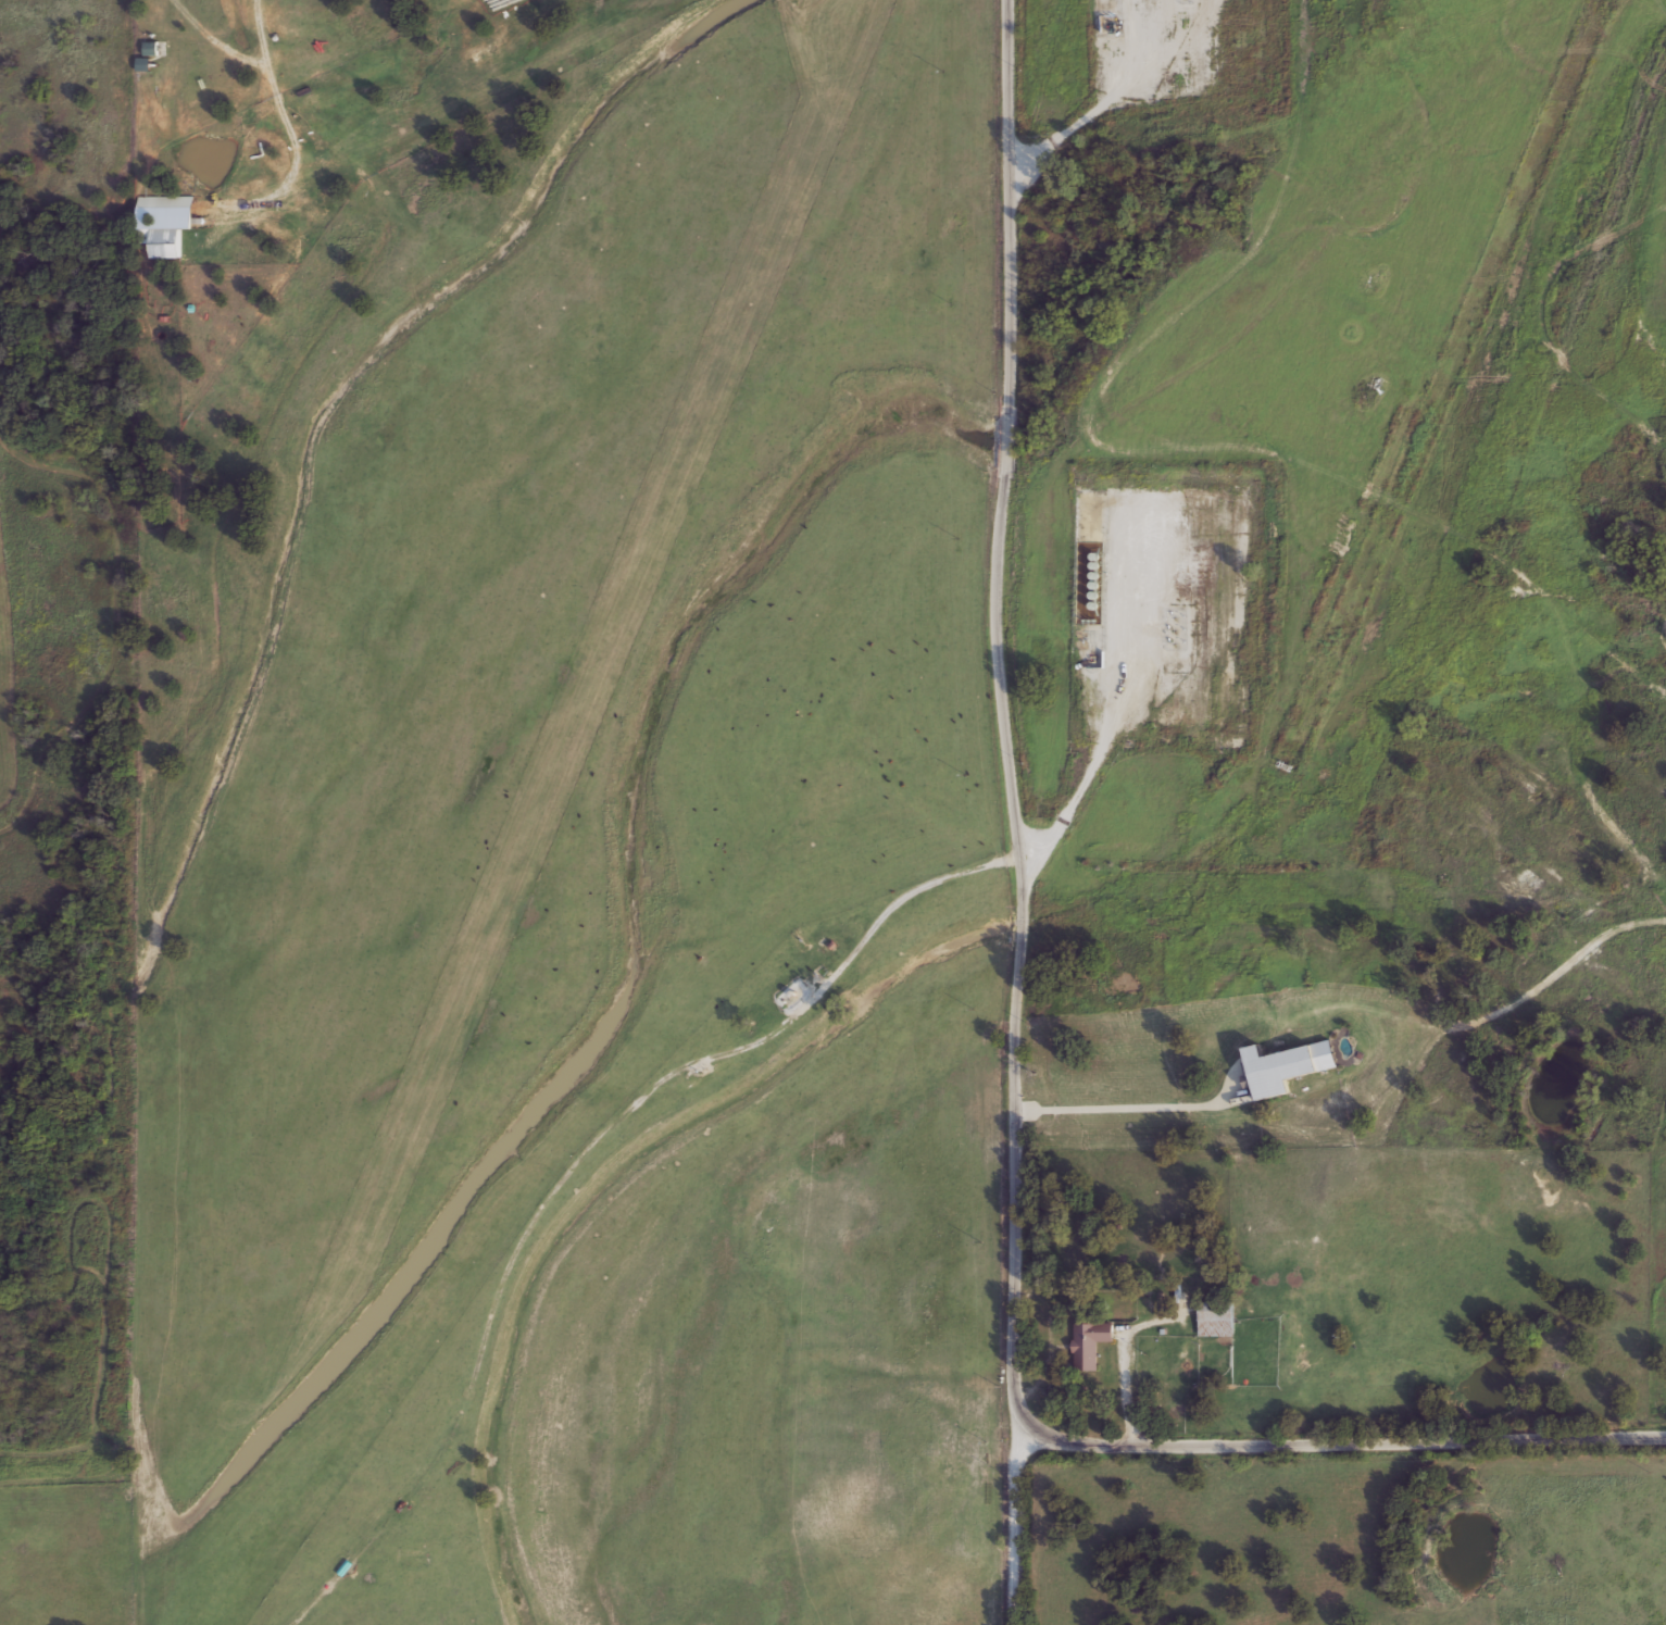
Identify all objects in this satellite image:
building: (149, 48)
building: (166, 242)
road: (1125, 704)
road: (1016, 812)
road: (730, 1051)
road: (1124, 1107)
building: (1216, 1317)
building: (1088, 1342)
road: (1349, 1443)

